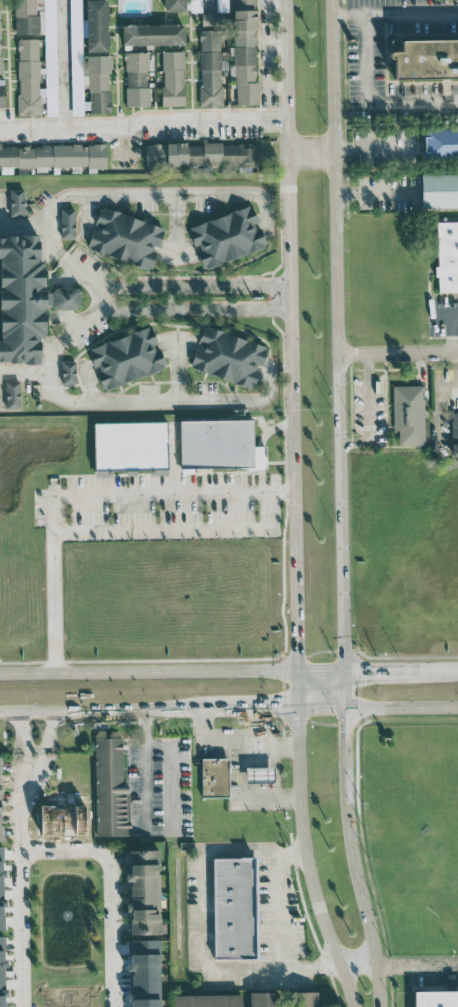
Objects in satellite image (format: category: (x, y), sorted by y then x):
building: (175, 4)
building: (192, 5)
building: (220, 5)
road: (399, 12)
building: (22, 16)
building: (47, 17)
building: (96, 25)
building: (153, 32)
building: (244, 55)
building: (419, 58)
road: (62, 65)
building: (207, 67)
building: (136, 77)
building: (170, 78)
building: (32, 81)
building: (97, 81)
building: (0, 95)
road: (372, 98)
road: (143, 121)
building: (438, 142)
road: (372, 149)
road: (313, 152)
building: (199, 153)
building: (50, 155)
building: (436, 190)
road: (371, 191)
road: (69, 196)
building: (12, 202)
road: (1, 209)
building: (62, 223)
road: (176, 228)
road: (23, 229)
building: (221, 235)
building: (119, 237)
building: (444, 256)
road: (280, 297)
road: (287, 297)
building: (15, 298)
building: (57, 298)
road: (451, 333)
road: (293, 334)
road: (337, 334)
road: (398, 351)
building: (222, 356)
building: (120, 357)
road: (176, 368)
road: (23, 371)
building: (63, 372)
building: (8, 394)
road: (166, 402)
building: (408, 413)
building: (454, 433)
building: (213, 444)
building: (123, 445)
road: (173, 456)
road: (85, 495)
road: (179, 530)
traffic signals: (299, 652)
road: (402, 667)
road: (322, 668)
traffic signals: (365, 668)
road: (149, 671)
road: (346, 688)
road: (299, 689)
road: (402, 707)
road: (323, 708)
road: (278, 709)
traffic signals: (279, 709)
road: (230, 710)
road: (100, 712)
road: (258, 723)
road: (300, 728)
traffic signals: (347, 730)
road: (217, 737)
road: (267, 742)
road: (288, 747)
road: (32, 766)
building: (259, 774)
building: (214, 777)
road: (243, 785)
building: (105, 786)
road: (276, 787)
road: (172, 814)
road: (59, 848)
road: (356, 858)
building: (134, 862)
road: (309, 880)
road: (19, 885)
building: (225, 908)
road: (201, 911)
road: (278, 926)
road: (109, 928)
road: (358, 954)
road: (421, 966)
building: (144, 986)
building: (262, 999)
building: (304, 999)
building: (436, 999)
building: (207, 1000)
building: (2, 1001)
building: (145, 1003)

